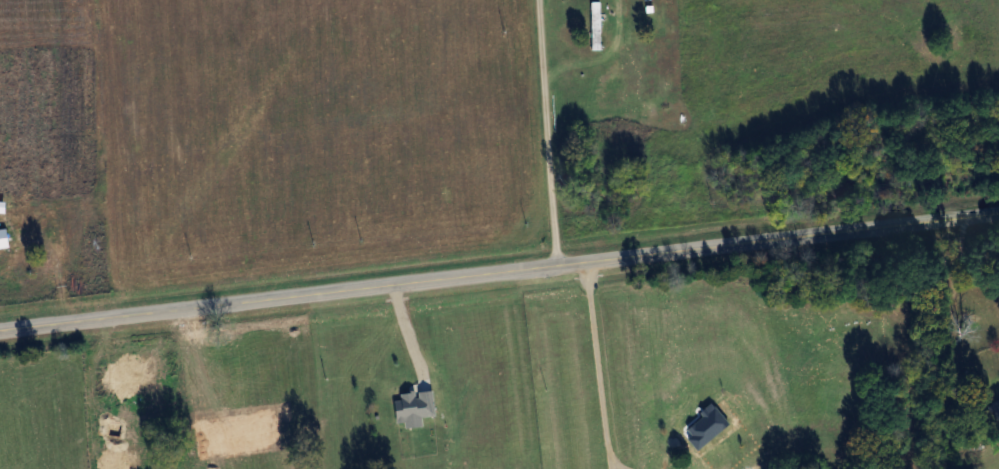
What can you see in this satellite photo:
building: (593, 29)
road: (543, 132)
road: (499, 270)
road: (406, 330)
road: (597, 362)
building: (995, 411)
road: (610, 466)
road: (617, 466)

